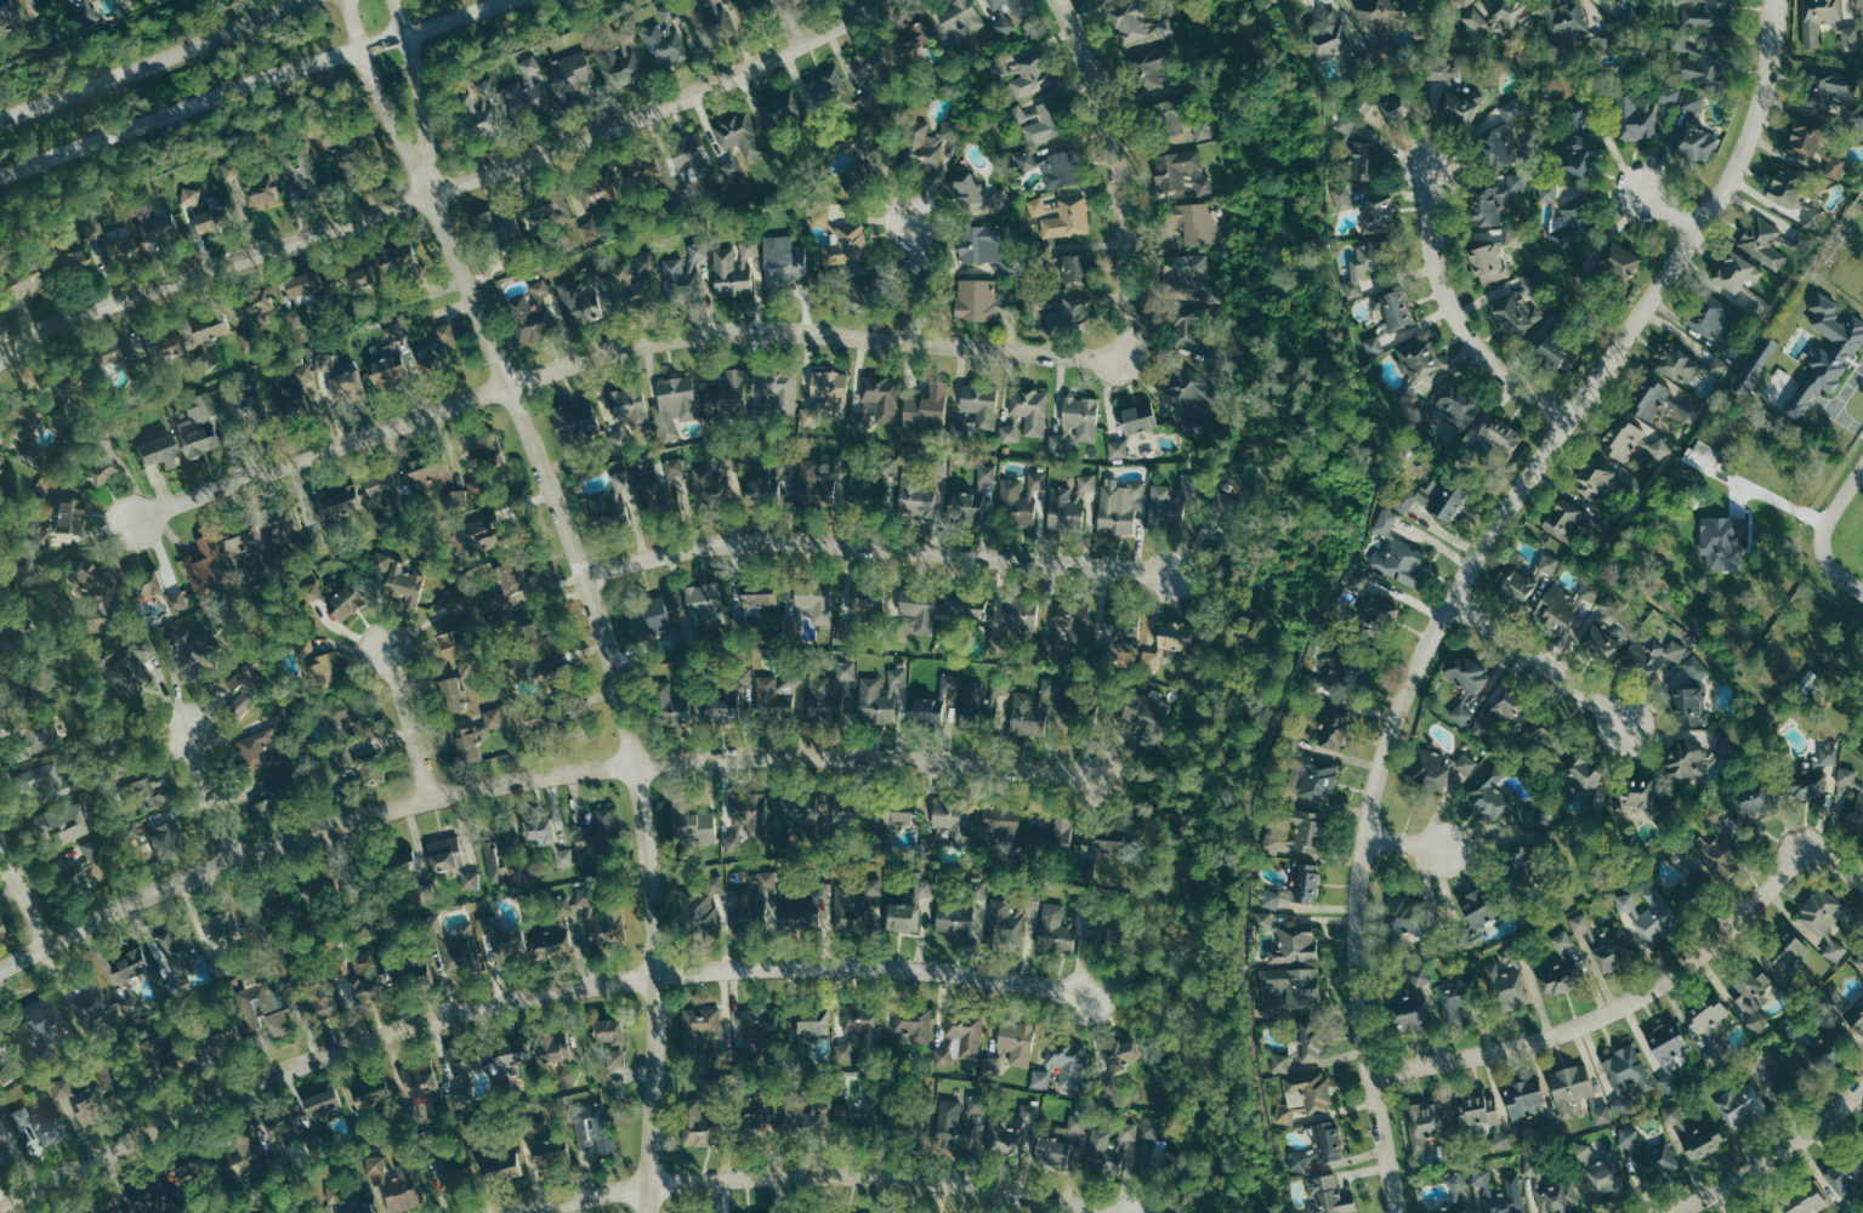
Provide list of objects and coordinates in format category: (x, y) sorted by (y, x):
building: (1681, 0)
building: (1466, 2)
building: (135, 4)
building: (1859, 6)
building: (1007, 12)
building: (1704, 13)
building: (13, 15)
building: (959, 16)
building: (1498, 16)
building: (1635, 16)
building: (1818, 18)
building: (1380, 19)
building: (1568, 21)
building: (911, 36)
building: (1851, 39)
building: (1333, 41)
building: (1602, 42)
building: (1145, 44)
building: (665, 45)
building: (1696, 61)
road: (153, 64)
building: (870, 64)
building: (620, 66)
building: (570, 76)
building: (1032, 78)
road: (251, 82)
building: (1833, 85)
building: (527, 90)
building: (1448, 90)
building: (830, 91)
building: (1669, 93)
road: (421, 95)
road: (380, 99)
building: (493, 101)
building: (1694, 101)
road: (291, 102)
building: (780, 107)
building: (1378, 108)
building: (1016, 115)
building: (1169, 116)
building: (1634, 116)
building: (1346, 123)
building: (1046, 124)
building: (1203, 130)
building: (739, 135)
building: (1802, 136)
building: (1697, 142)
building: (926, 143)
building: (691, 154)
building: (1581, 155)
building: (356, 156)
building: (1363, 159)
building: (1027, 160)
building: (1834, 165)
building: (732, 169)
building: (1176, 169)
building: (1058, 170)
road: (1117, 172)
building: (308, 176)
building: (856, 177)
building: (1784, 184)
building: (1205, 186)
road: (443, 187)
building: (268, 188)
building: (1547, 192)
building: (595, 193)
building: (970, 193)
building: (195, 195)
building: (1344, 197)
building: (1495, 199)
road: (1663, 205)
building: (553, 211)
building: (1813, 213)
building: (1378, 215)
building: (195, 217)
building: (221, 218)
building: (1069, 218)
building: (1572, 218)
building: (1194, 221)
building: (505, 222)
building: (95, 227)
building: (591, 228)
building: (840, 234)
building: (1515, 237)
building: (1801, 240)
building: (1763, 243)
building: (977, 244)
building: (126, 246)
building: (751, 247)
building: (699, 251)
building: (1370, 257)
building: (783, 258)
building: (1619, 260)
building: (404, 261)
building: (647, 261)
building: (1488, 261)
building: (1075, 268)
building: (1186, 268)
building: (1737, 272)
building: (364, 274)
building: (731, 274)
building: (33, 279)
road: (916, 279)
building: (682, 280)
building: (311, 283)
building: (545, 287)
building: (627, 287)
building: (1353, 287)
building: (976, 300)
building: (271, 303)
building: (1075, 303)
building: (581, 304)
building: (1760, 304)
building: (1392, 307)
building: (301, 315)
building: (1516, 315)
building: (1711, 315)
road: (1455, 317)
building: (534, 319)
building: (1186, 324)
building: (227, 328)
building: (172, 341)
building: (1374, 344)
building: (442, 346)
road: (617, 349)
building: (1550, 349)
building: (121, 352)
building: (1828, 352)
building: (1418, 359)
building: (1759, 363)
building: (1676, 364)
building: (394, 366)
building: (354, 387)
building: (1187, 391)
building: (1409, 392)
building: (731, 394)
building: (825, 395)
building: (778, 398)
building: (879, 399)
building: (1651, 399)
building: (636, 404)
building: (681, 404)
building: (1456, 404)
building: (245, 405)
building: (296, 406)
building: (927, 408)
building: (1032, 409)
building: (978, 410)
building: (1426, 412)
building: (1081, 416)
building: (1138, 417)
building: (580, 422)
building: (33, 423)
building: (208, 427)
building: (1498, 432)
building: (1010, 433)
building: (1625, 440)
building: (1058, 443)
building: (0, 446)
building: (1118, 448)
building: (165, 451)
building: (1704, 456)
building: (499, 457)
building: (4, 463)
building: (678, 466)
building: (939, 467)
building: (107, 471)
building: (441, 472)
building: (1594, 478)
building: (765, 482)
building: (876, 482)
building: (1087, 482)
building: (715, 484)
building: (394, 488)
building: (482, 488)
building: (663, 490)
building: (972, 495)
building: (915, 496)
building: (1022, 496)
building: (1430, 497)
building: (460, 499)
building: (1163, 501)
road: (1839, 503)
building: (1119, 505)
building: (614, 507)
building: (1064, 507)
building: (74, 517)
building: (1561, 517)
building: (1386, 522)
building: (498, 530)
building: (249, 539)
road: (877, 547)
building: (1399, 560)
building: (212, 565)
road: (1835, 570)
road: (1220, 575)
road: (1467, 577)
building: (410, 579)
building: (522, 579)
building: (1357, 579)
building: (100, 580)
building: (1516, 585)
building: (768, 592)
building: (167, 594)
building: (350, 598)
building: (822, 600)
building: (868, 603)
building: (916, 605)
building: (709, 606)
building: (1554, 606)
building: (967, 609)
road: (1260, 611)
building: (1378, 613)
building: (1018, 615)
building: (655, 616)
building: (743, 626)
building: (1068, 633)
building: (461, 634)
building: (1121, 637)
building: (1602, 642)
building: (552, 643)
building: (1165, 643)
building: (201, 648)
building: (1651, 656)
road: (1539, 662)
building: (142, 664)
building: (333, 666)
building: (1697, 667)
building: (473, 668)
building: (845, 670)
building: (1350, 670)
building: (791, 672)
building: (1465, 673)
building: (743, 674)
building: (898, 674)
building: (688, 678)
building: (259, 680)
building: (950, 682)
building: (460, 684)
building: (1001, 685)
building: (1051, 685)
road: (614, 687)
building: (773, 699)
building: (824, 701)
building: (875, 702)
building: (671, 705)
building: (975, 705)
building: (1688, 705)
building: (723, 707)
building: (927, 711)
building: (1461, 711)
building: (1079, 713)
building: (1028, 714)
building: (499, 717)
building: (1147, 717)
road: (408, 721)
building: (357, 723)
building: (1334, 729)
building: (44, 736)
building: (475, 740)
building: (267, 751)
building: (1687, 762)
building: (1466, 763)
building: (1427, 768)
building: (380, 769)
building: (1579, 773)
building: (1811, 776)
building: (1847, 776)
road: (1141, 778)
building: (1313, 778)
road: (532, 779)
building: (283, 791)
building: (1637, 792)
building: (153, 793)
road: (208, 795)
building: (1494, 796)
building: (1754, 798)
building: (902, 807)
building: (750, 810)
building: (801, 810)
building: (1856, 815)
building: (1532, 819)
building: (954, 821)
building: (72, 822)
building: (691, 822)
building: (1004, 822)
building: (1307, 828)
building: (597, 833)
building: (170, 836)
building: (552, 838)
building: (1109, 838)
building: (1052, 839)
road: (1402, 842)
building: (1272, 843)
building: (931, 844)
building: (981, 847)
building: (100, 848)
building: (1721, 850)
building: (1688, 860)
building: (504, 862)
building: (1517, 865)
building: (422, 867)
building: (1306, 882)
building: (922, 883)
building: (873, 887)
building: (979, 888)
road: (24, 893)
building: (909, 899)
building: (1270, 899)
building: (595, 900)
building: (851, 909)
building: (697, 911)
building: (746, 911)
building: (1819, 911)
building: (1652, 912)
building: (953, 913)
building: (1405, 913)
building: (1476, 916)
building: (903, 917)
building: (801, 919)
building: (1265, 921)
building: (1004, 923)
building: (1580, 923)
building: (4, 927)
building: (1058, 927)
building: (231, 928)
building: (610, 929)
building: (1111, 938)
building: (560, 943)
building: (1294, 944)
building: (516, 946)
building: (1613, 947)
building: (467, 950)
building: (1834, 950)
building: (183, 952)
building: (1787, 953)
building: (1859, 962)
building: (222, 967)
building: (1557, 969)
building: (1420, 975)
building: (138, 978)
building: (373, 984)
building: (1293, 985)
building: (1503, 990)
road: (1641, 992)
building: (1749, 993)
road: (524, 997)
building: (1453, 1002)
building: (277, 1007)
road: (1140, 1007)
building: (326, 1008)
building: (95, 1012)
building: (1407, 1013)
building: (1856, 1015)
building: (50, 1016)
building: (761, 1020)
building: (812, 1020)
building: (702, 1021)
building: (863, 1024)
building: (1709, 1024)
building: (911, 1026)
building: (618, 1033)
building: (960, 1040)
building: (1017, 1041)
building: (1668, 1042)
building: (1299, 1046)
building: (1823, 1048)
building: (845, 1052)
building: (1118, 1053)
building: (563, 1054)
building: (746, 1055)
building: (516, 1061)
building: (1068, 1061)
building: (468, 1064)
building: (992, 1065)
building: (1773, 1065)
building: (1629, 1070)
building: (428, 1077)
building: (1041, 1078)
building: (1569, 1088)
building: (380, 1092)
building: (1303, 1095)
building: (101, 1103)
building: (333, 1103)
building: (1524, 1103)
building: (1738, 1106)
building: (1476, 1110)
building: (1672, 1115)
building: (27, 1116)
building: (693, 1122)
building: (754, 1122)
building: (371, 1123)
building: (1078, 1123)
building: (1424, 1123)
building: (956, 1124)
building: (1151, 1128)
building: (285, 1129)
building: (602, 1129)
building: (56, 1131)
building: (1011, 1132)
building: (1129, 1132)
building: (1063, 1134)
building: (1503, 1138)
building: (1327, 1140)
building: (1702, 1141)
building: (1103, 1149)
building: (556, 1150)
building: (1051, 1150)
building: (257, 1154)
building: (1648, 1155)
road: (1772, 1157)
building: (1604, 1171)
road: (800, 1173)
building: (1847, 1174)
building: (1458, 1181)
building: (402, 1186)
building: (1501, 1192)
building: (1329, 1196)
building: (1558, 1197)
building: (1804, 1200)
building: (1454, 1208)

